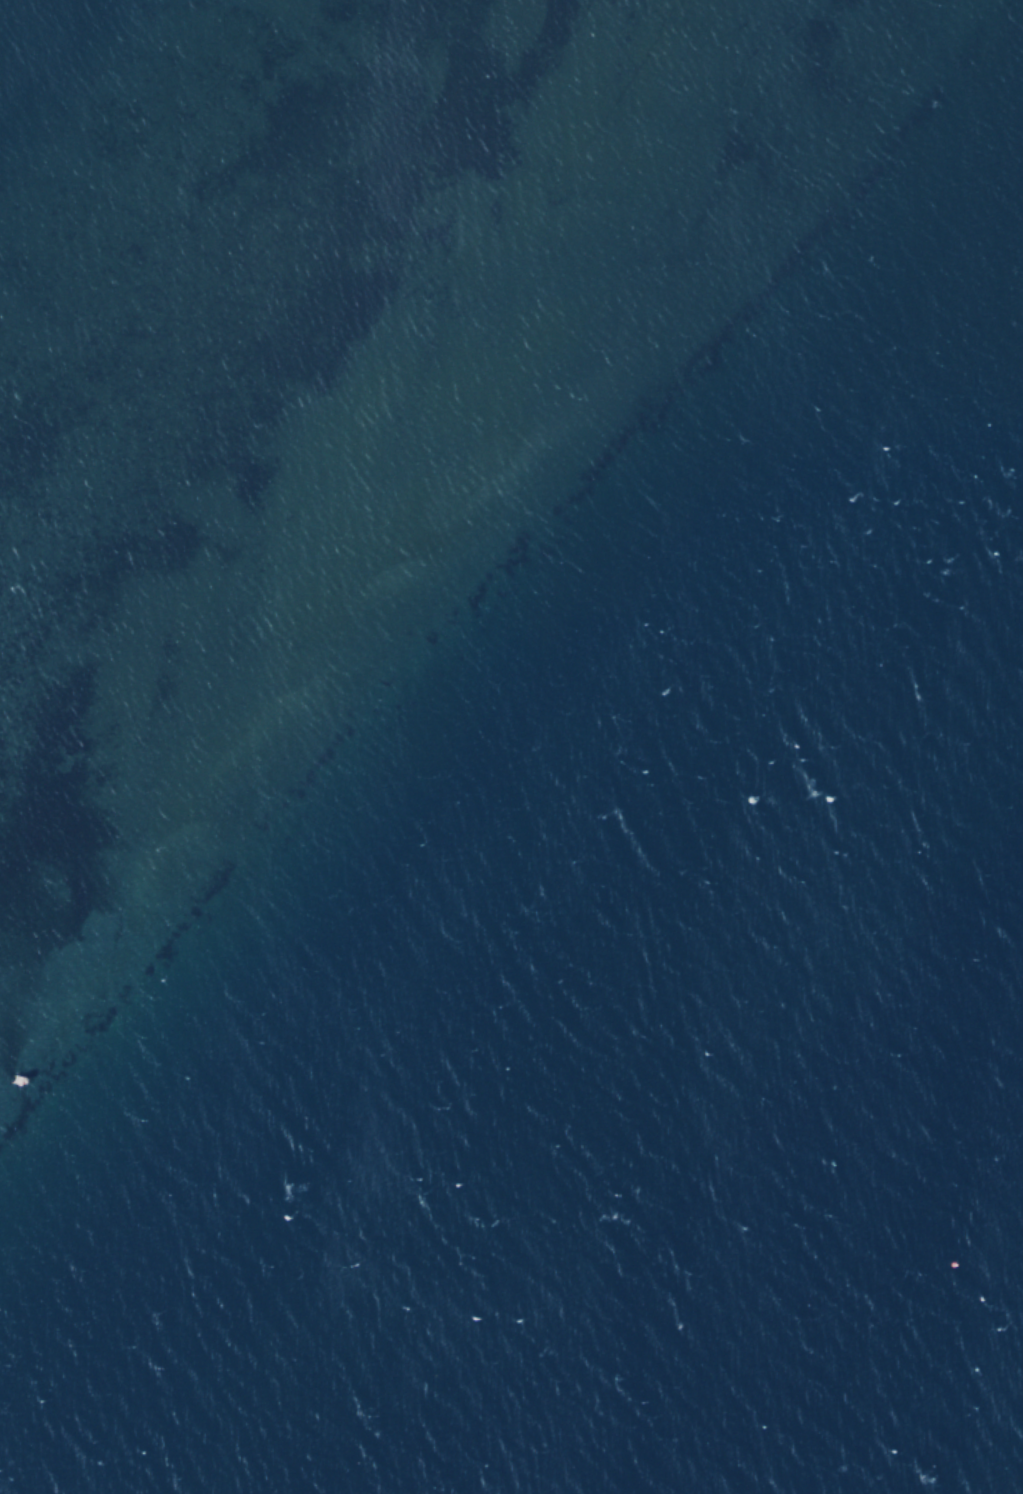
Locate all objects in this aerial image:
river: (816, 1265)

